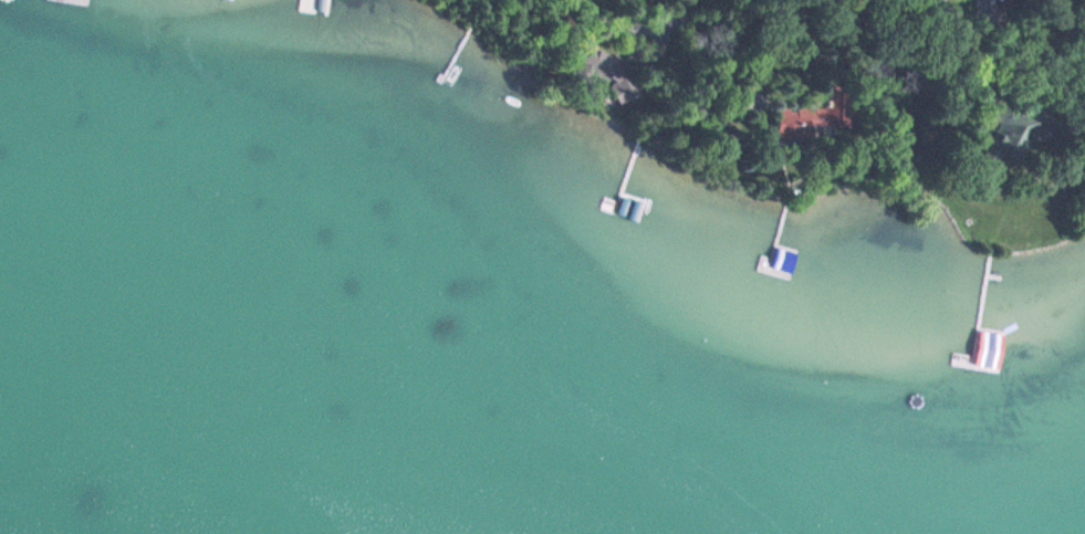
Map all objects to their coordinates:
building: (609, 77)
building: (1084, 88)
building: (814, 115)
building: (1010, 134)
building: (982, 339)

